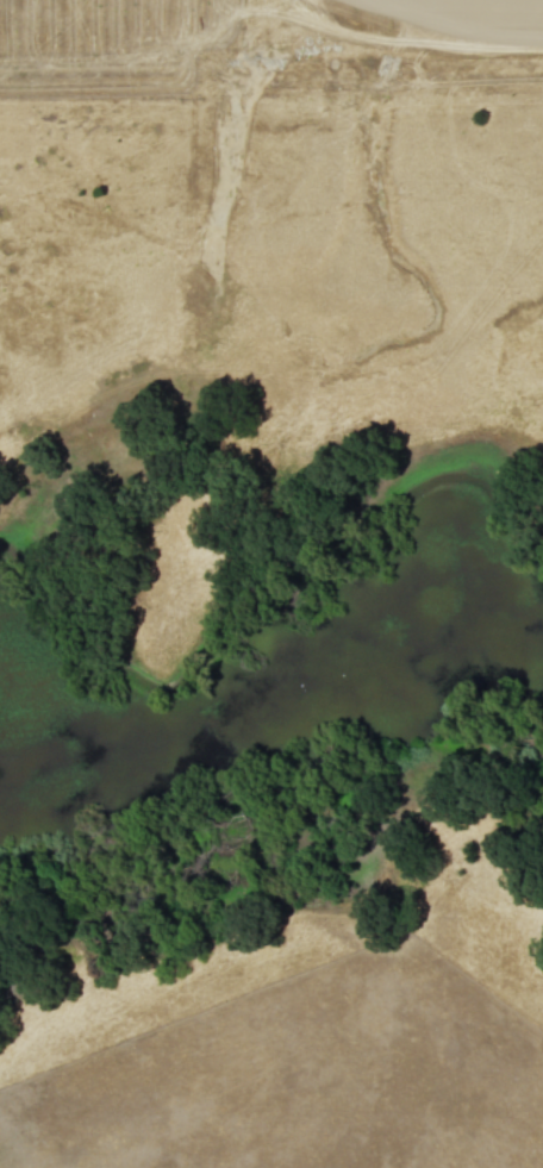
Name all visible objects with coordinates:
crop: (400, 15)

